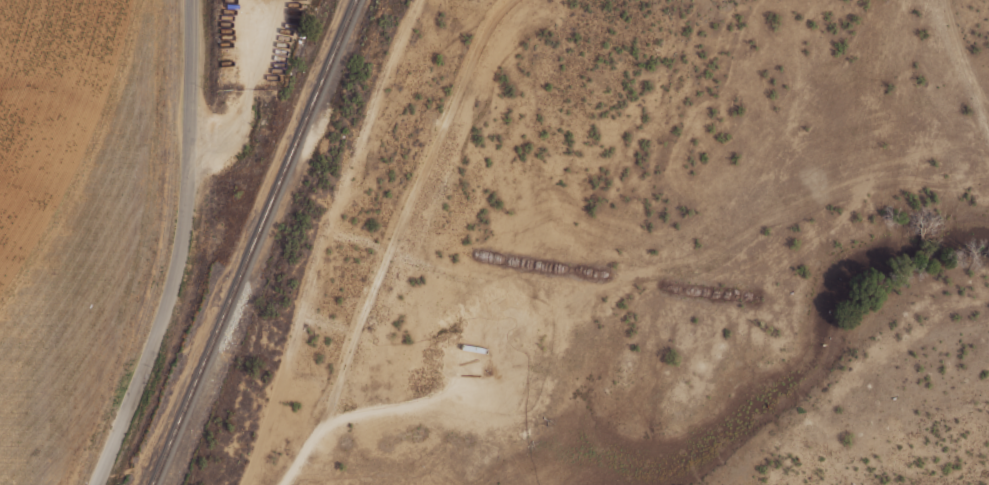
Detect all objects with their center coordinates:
road: (963, 66)
road: (403, 212)
road: (323, 240)
railway: (253, 242)
road: (177, 249)
road: (363, 412)

